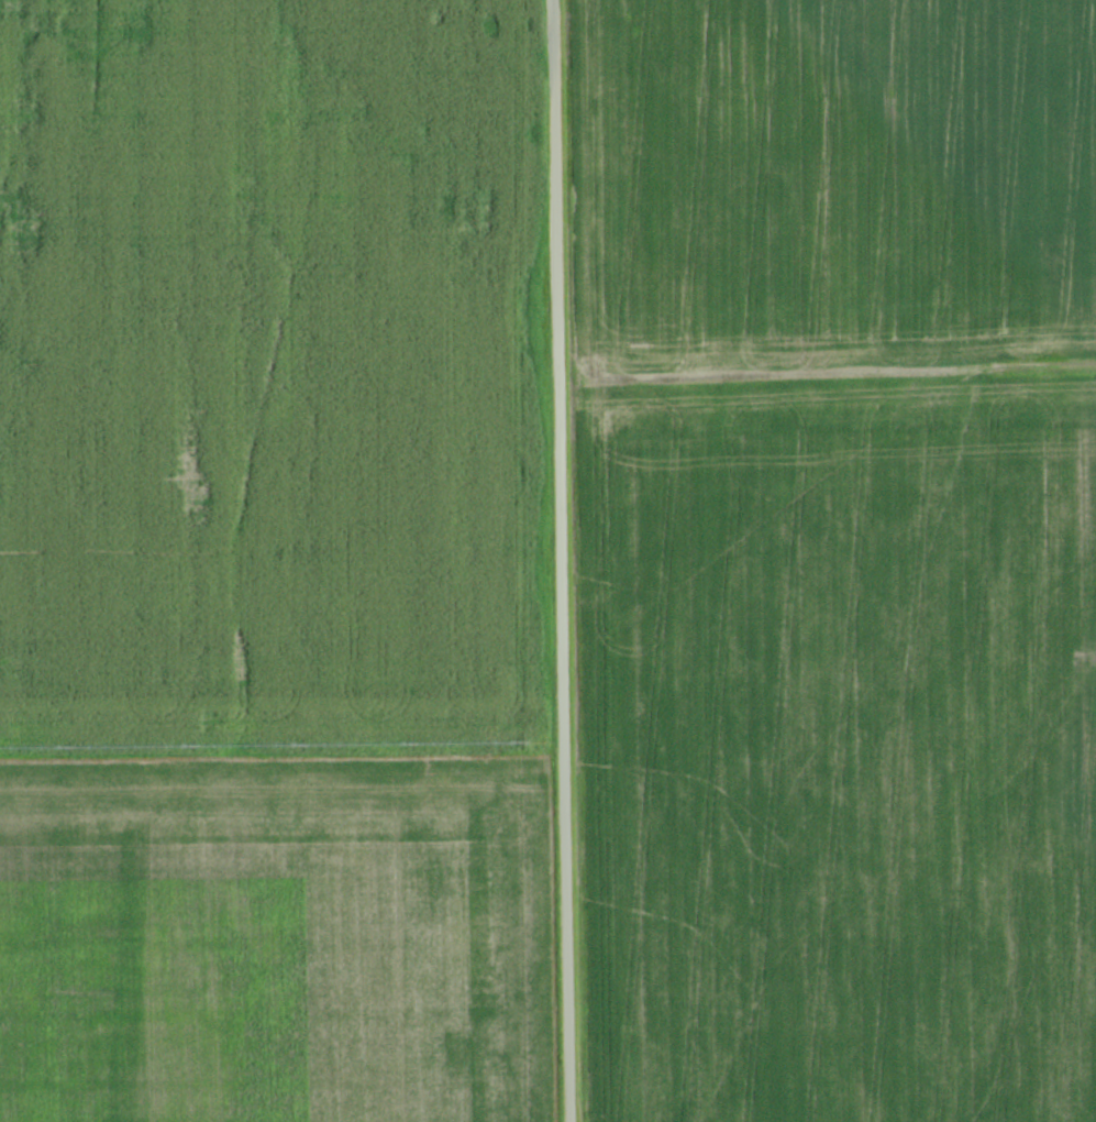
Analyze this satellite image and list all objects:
road: (562, 561)

